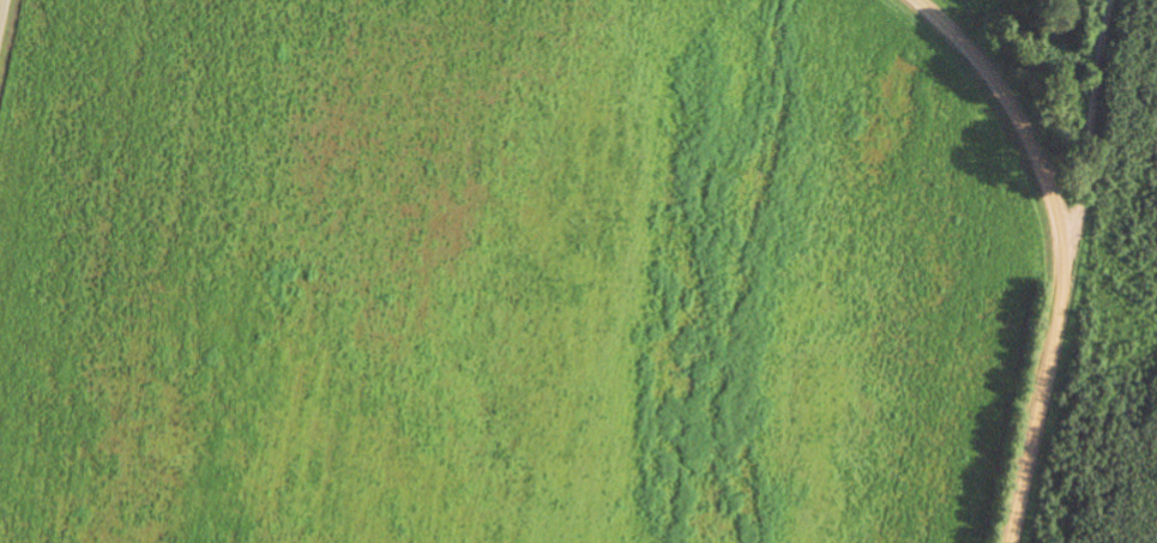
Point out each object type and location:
road: (1067, 251)

